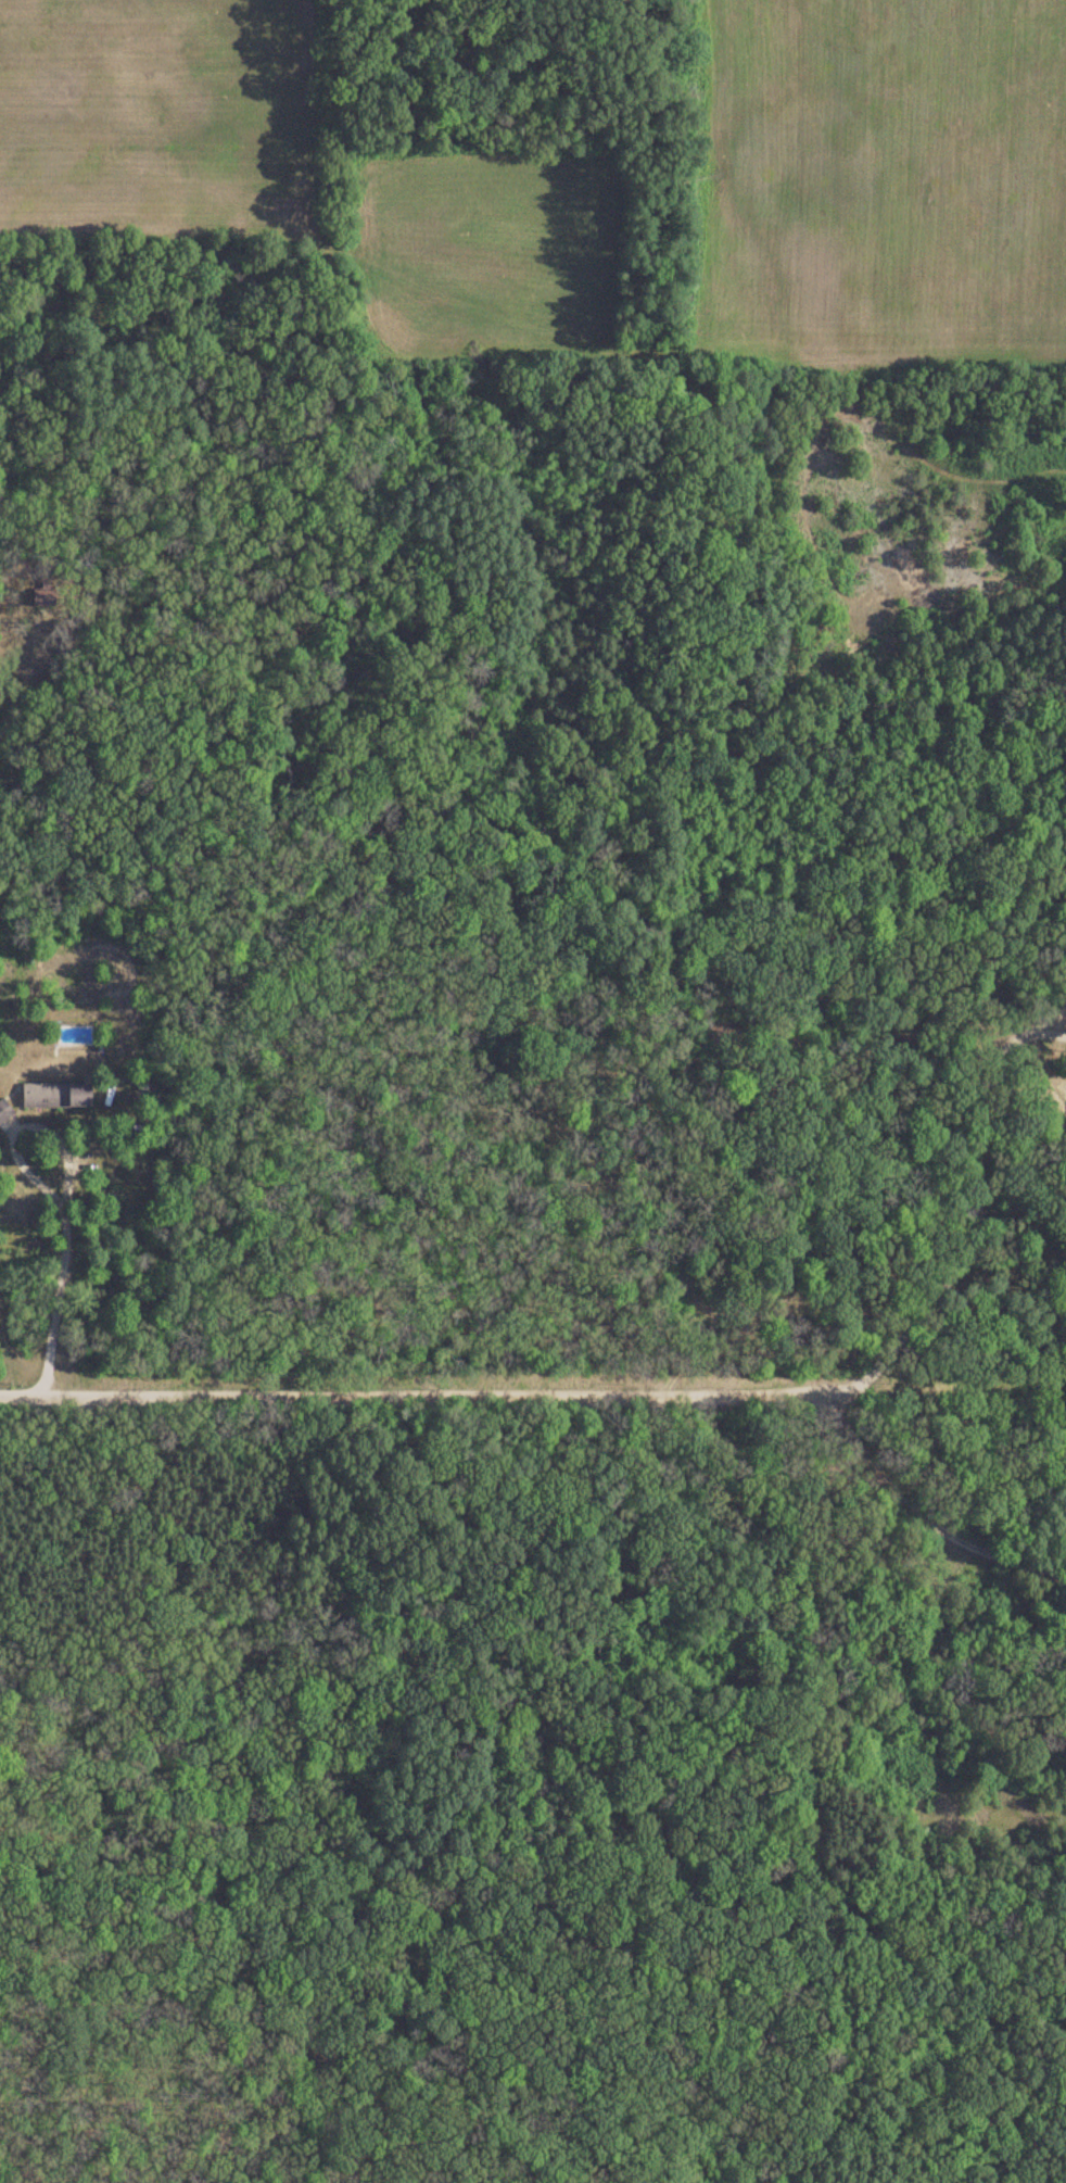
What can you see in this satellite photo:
building: (54, 1084)
building: (3, 1111)
road: (62, 1183)
road: (868, 1341)
road: (440, 1365)
road: (573, 1618)
road: (530, 1750)

